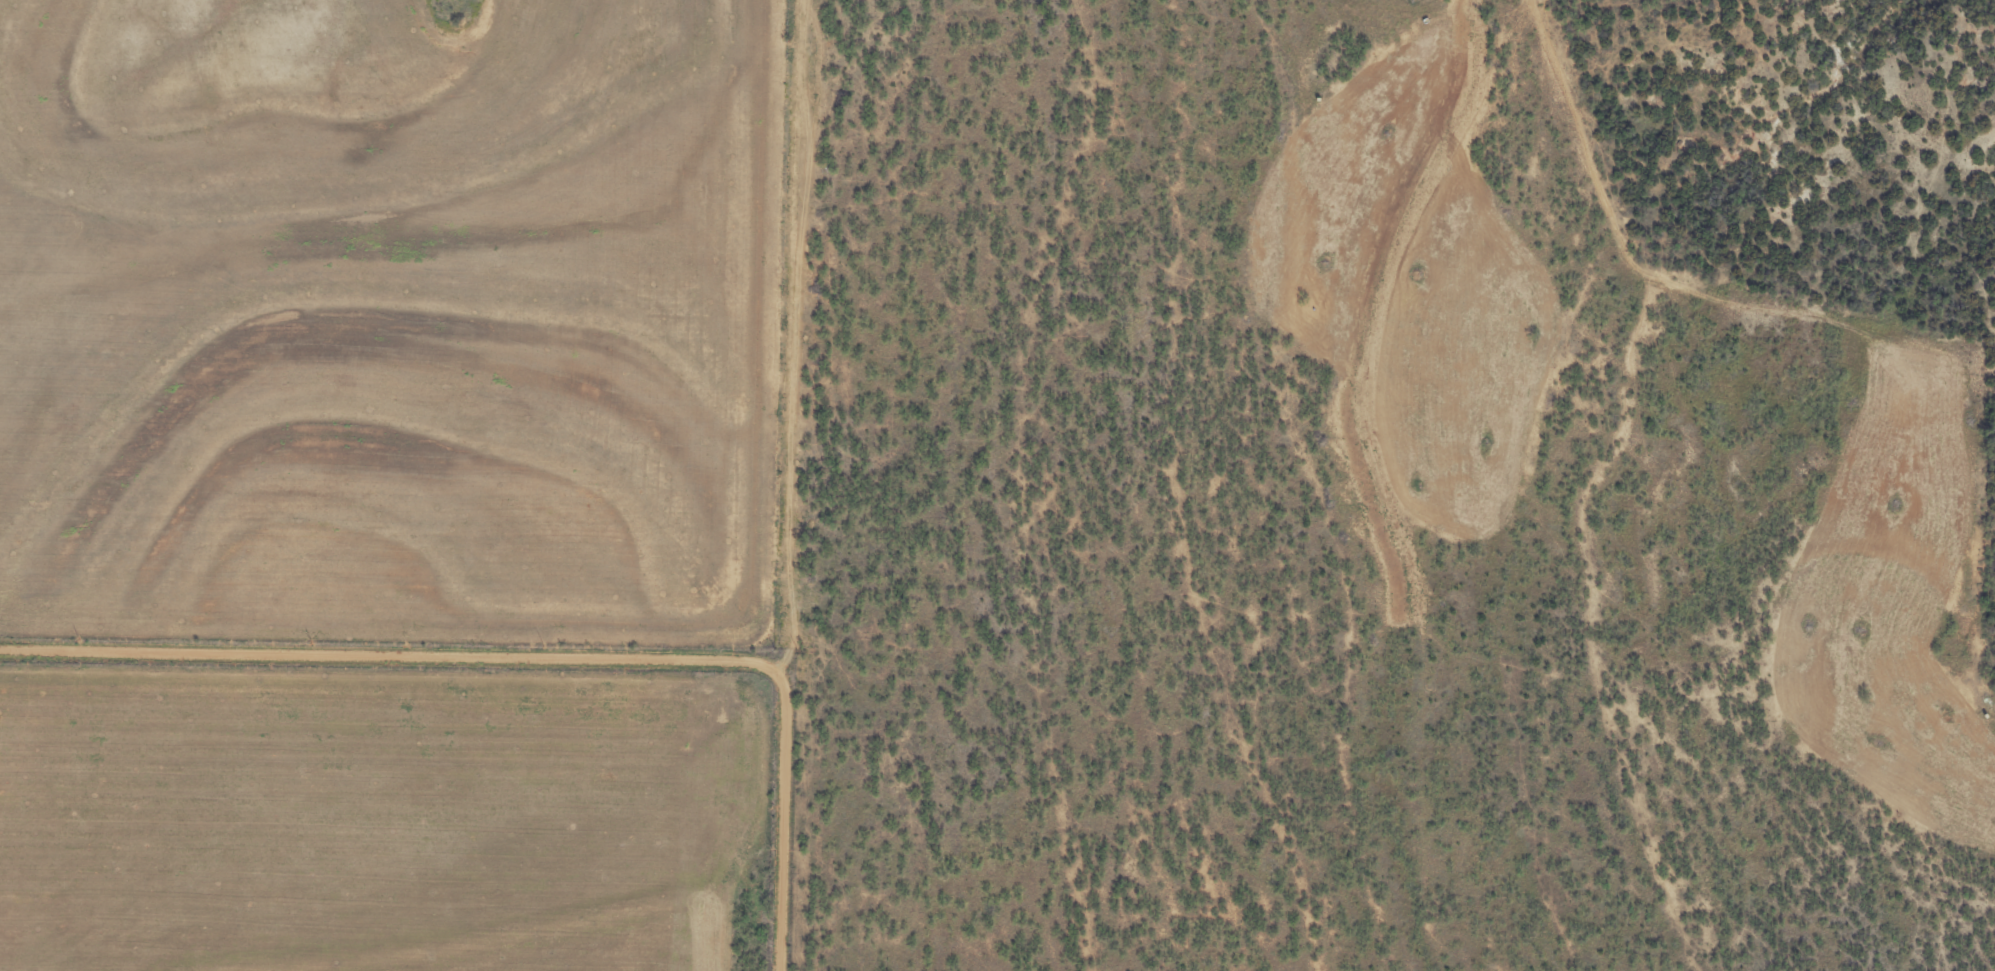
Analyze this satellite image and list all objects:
road: (542, 652)

